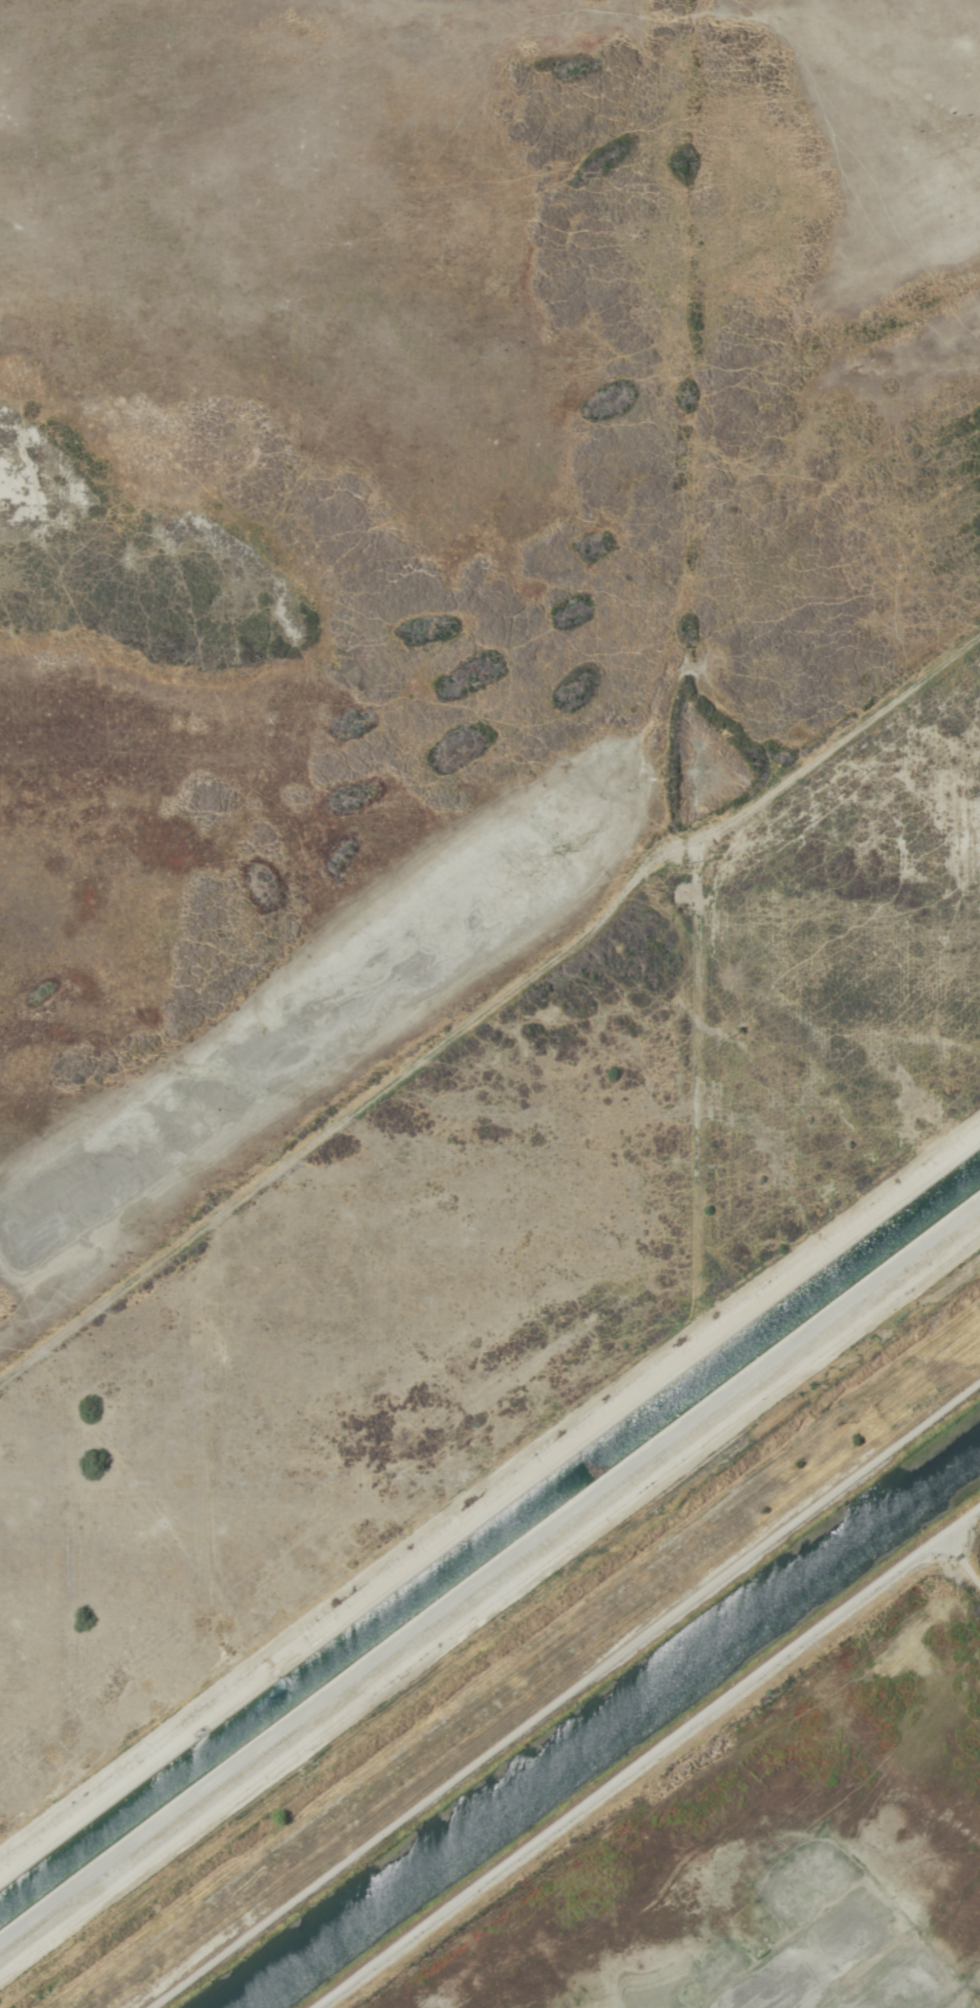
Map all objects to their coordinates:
crop: (449, 763)
road: (646, 1742)

